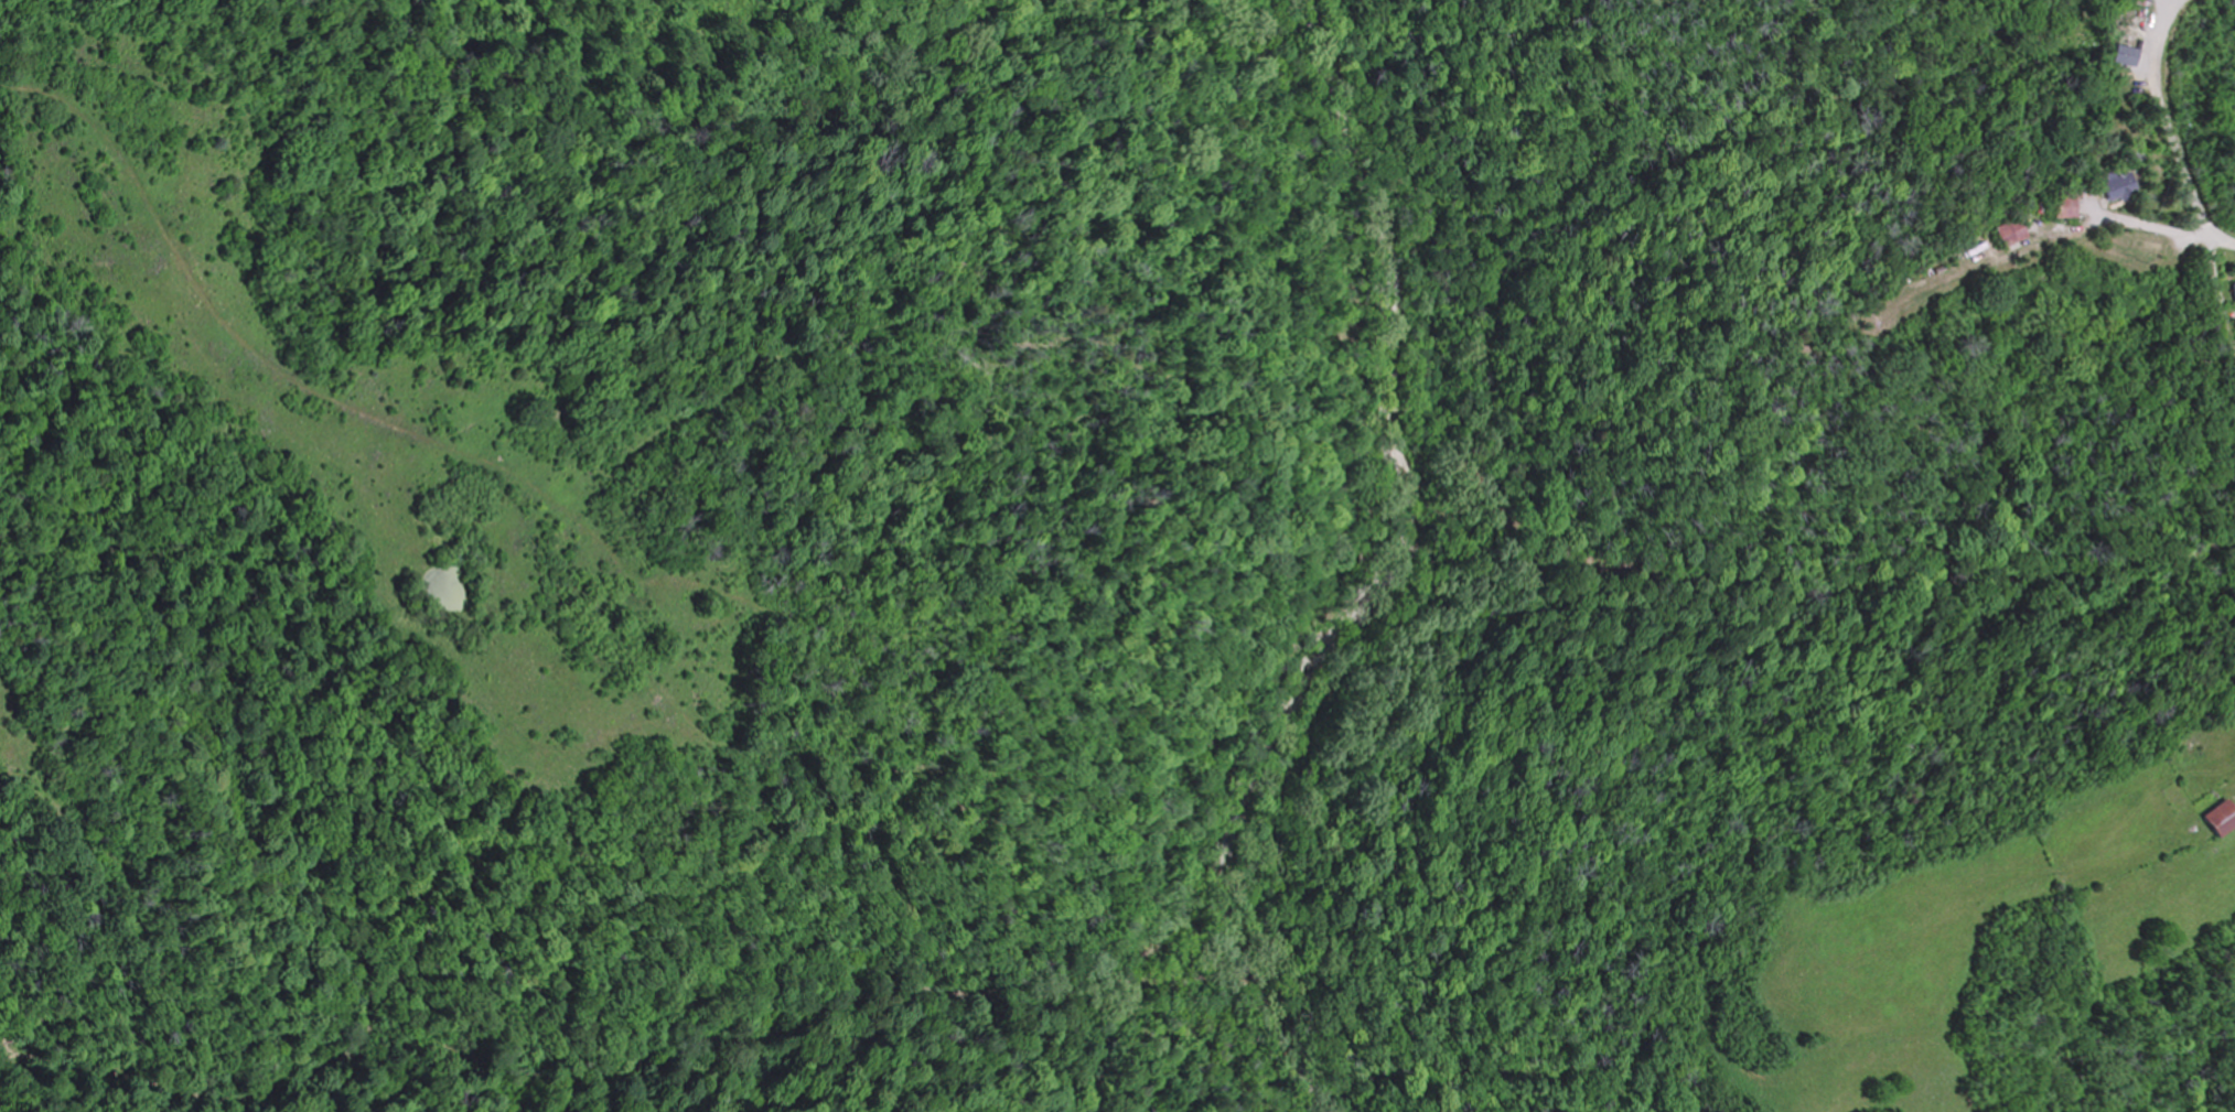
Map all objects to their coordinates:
road: (2171, 156)

